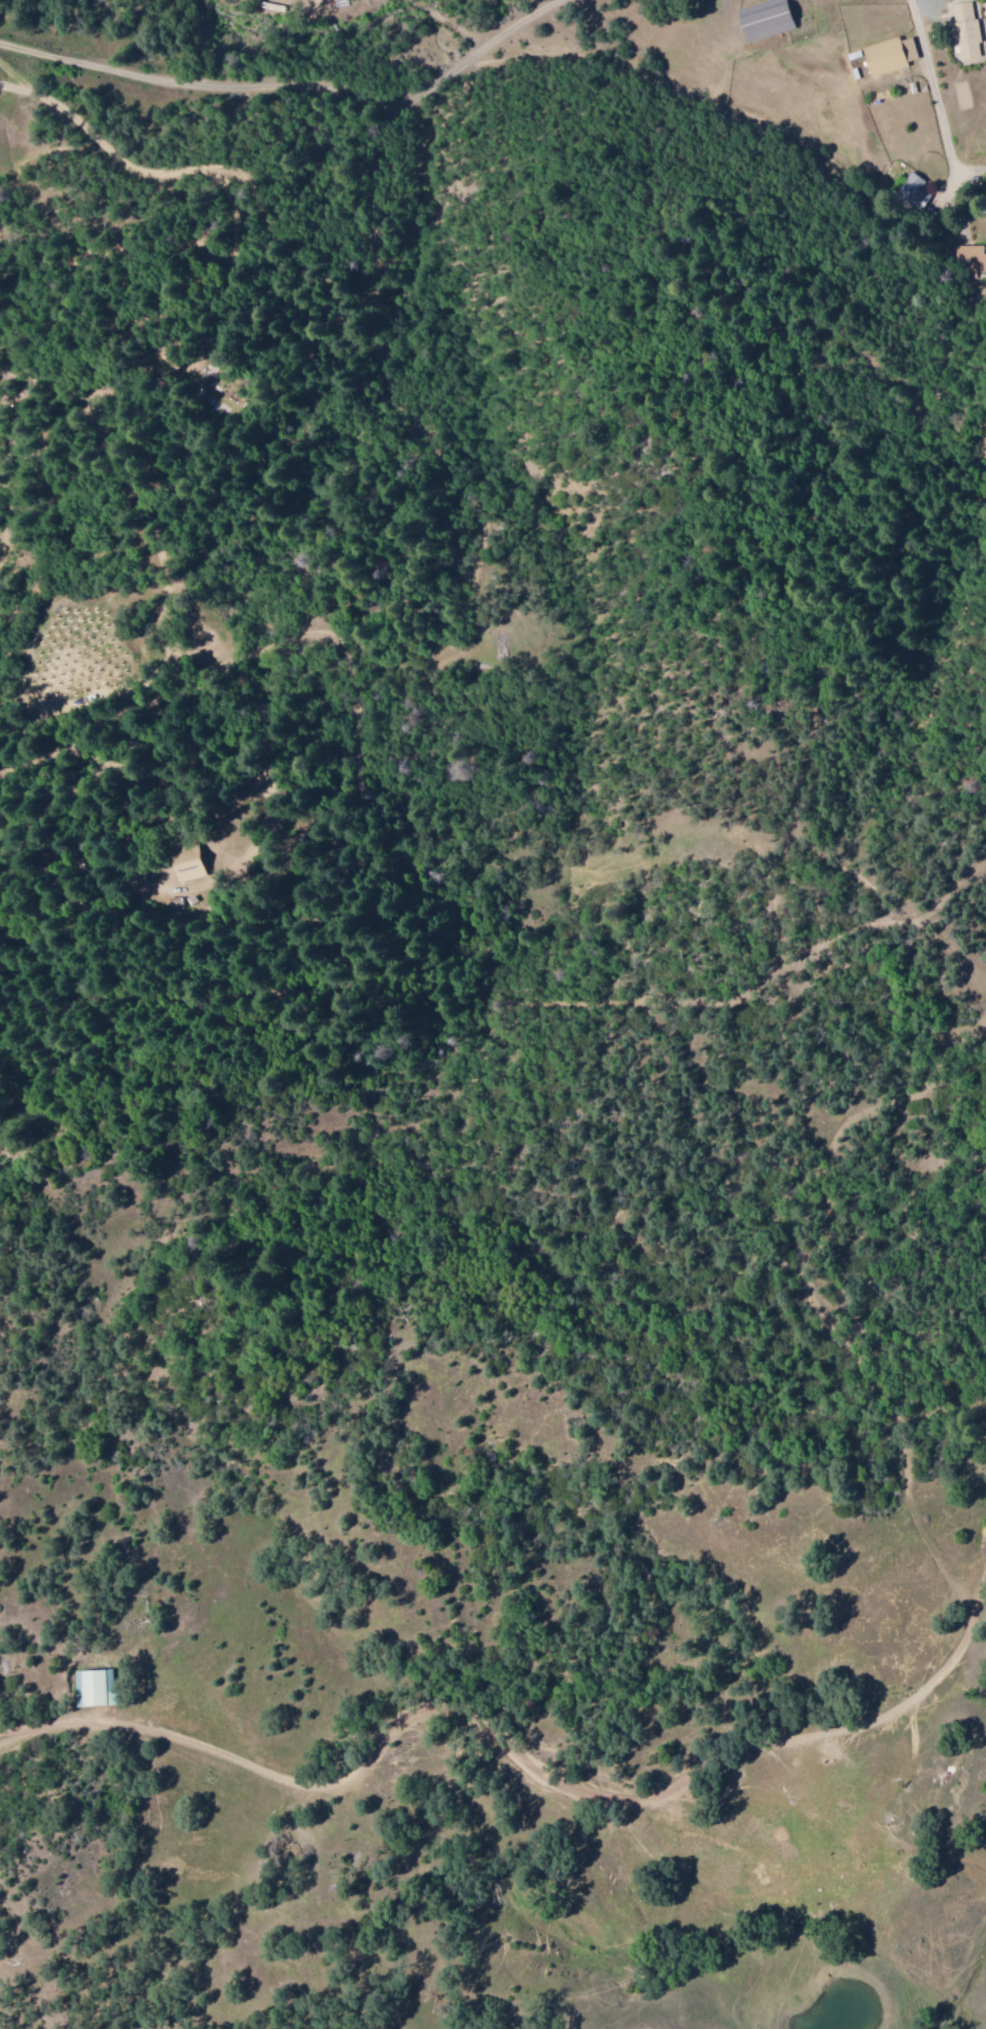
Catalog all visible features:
building: (766, 19)
road: (455, 24)
building: (966, 30)
building: (890, 55)
road: (298, 82)
building: (912, 190)
building: (971, 258)
building: (188, 866)
building: (93, 1688)
road: (524, 1739)

